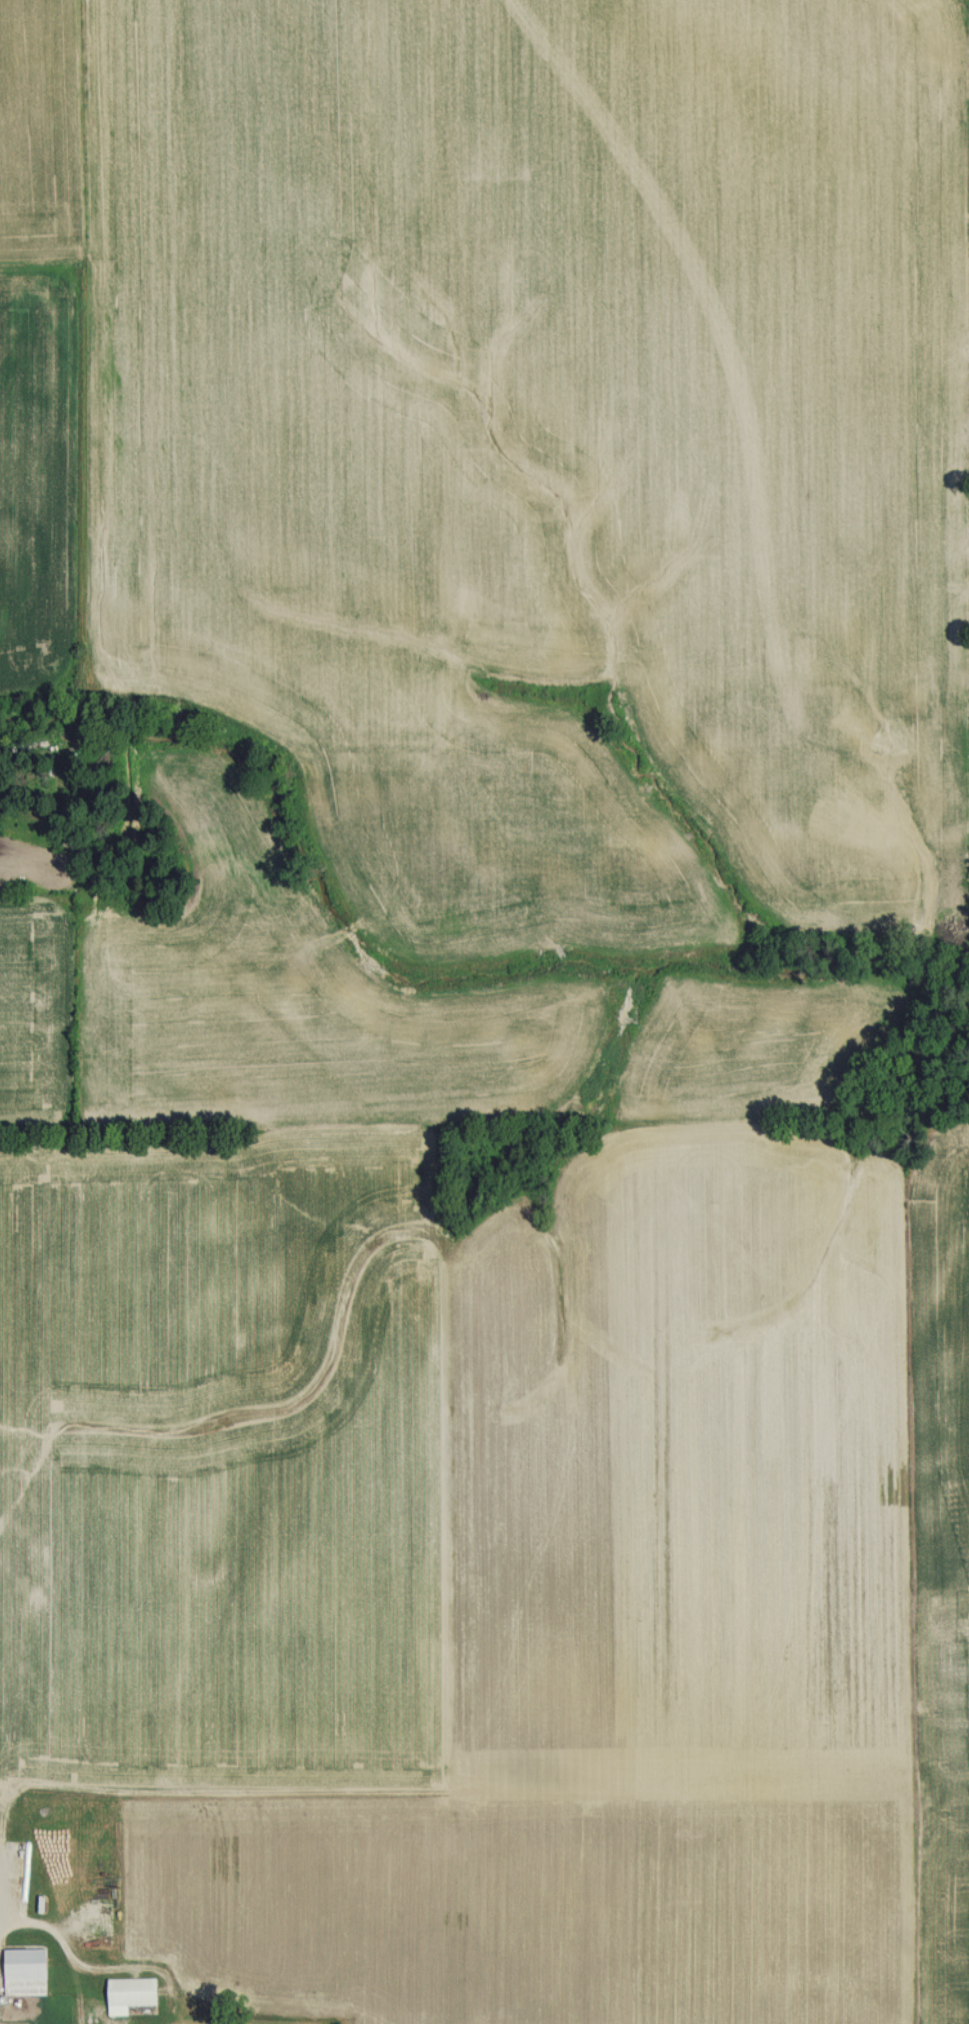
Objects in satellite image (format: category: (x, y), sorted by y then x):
building: (21, 1972)
building: (125, 1994)

